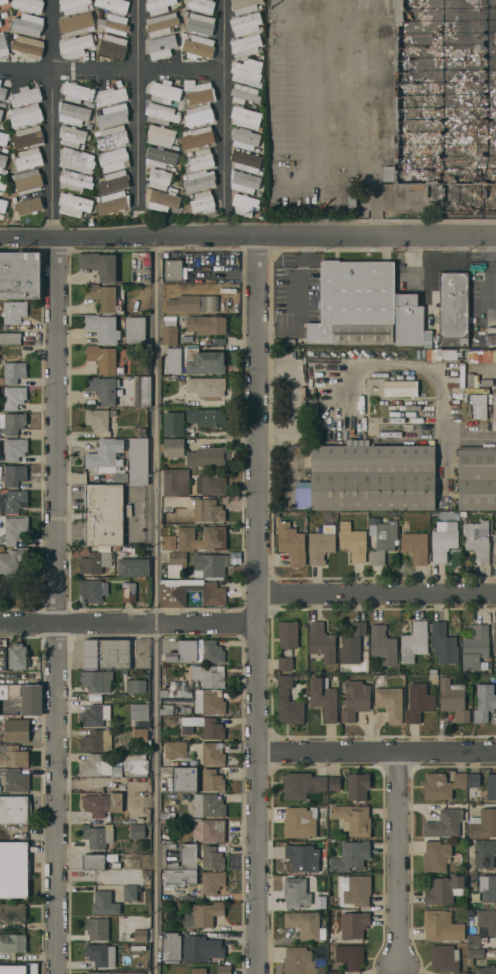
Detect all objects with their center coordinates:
building: (3, 1)
building: (29, 5)
building: (113, 5)
building: (202, 5)
building: (245, 5)
building: (74, 6)
building: (158, 6)
building: (246, 23)
building: (0, 24)
building: (76, 24)
building: (114, 24)
building: (161, 24)
building: (200, 24)
building: (27, 25)
road: (50, 34)
building: (2, 43)
building: (76, 44)
building: (161, 44)
building: (246, 45)
building: (28, 46)
building: (113, 47)
building: (198, 47)
road: (401, 47)
road: (305, 63)
road: (135, 68)
road: (25, 69)
building: (247, 72)
building: (0, 81)
building: (77, 92)
building: (3, 93)
building: (244, 93)
building: (26, 96)
building: (111, 96)
building: (199, 97)
road: (137, 101)
building: (446, 101)
road: (222, 102)
building: (172, 103)
building: (1, 113)
building: (73, 113)
building: (25, 115)
building: (199, 115)
building: (112, 116)
building: (246, 117)
road: (400, 126)
building: (161, 135)
building: (72, 136)
building: (28, 137)
building: (112, 137)
building: (197, 137)
building: (4, 138)
building: (245, 138)
road: (51, 153)
building: (161, 157)
building: (29, 159)
building: (114, 159)
building: (201, 159)
building: (76, 160)
building: (246, 161)
building: (3, 163)
road: (484, 168)
building: (0, 177)
building: (160, 179)
building: (199, 180)
road: (305, 180)
road: (432, 180)
building: (28, 181)
building: (75, 181)
building: (244, 181)
building: (114, 182)
building: (2, 185)
building: (4, 193)
building: (162, 200)
building: (113, 202)
building: (203, 202)
building: (74, 204)
building: (3, 205)
building: (28, 205)
building: (244, 205)
road: (247, 234)
road: (412, 242)
road: (462, 242)
road: (443, 263)
building: (100, 265)
road: (490, 269)
building: (175, 270)
road: (419, 272)
building: (20, 275)
building: (102, 297)
road: (301, 302)
building: (192, 303)
building: (355, 303)
building: (454, 306)
building: (14, 311)
building: (408, 320)
building: (206, 324)
building: (103, 328)
building: (169, 330)
building: (135, 331)
building: (10, 338)
building: (481, 356)
building: (102, 358)
building: (174, 360)
building: (205, 362)
building: (14, 372)
building: (206, 386)
road: (437, 387)
building: (401, 388)
building: (102, 389)
building: (143, 390)
building: (14, 397)
building: (478, 406)
building: (206, 417)
building: (97, 419)
building: (11, 423)
building: (173, 424)
road: (157, 430)
building: (174, 447)
building: (15, 449)
building: (206, 457)
building: (107, 458)
building: (138, 461)
building: (14, 475)
building: (373, 477)
building: (477, 479)
building: (176, 482)
building: (212, 484)
building: (13, 502)
building: (208, 511)
building: (104, 515)
building: (15, 529)
building: (171, 534)
building: (186, 538)
building: (214, 538)
building: (382, 538)
building: (353, 541)
building: (477, 541)
building: (168, 542)
building: (444, 542)
building: (291, 543)
building: (321, 544)
building: (415, 546)
building: (495, 549)
building: (12, 560)
building: (94, 562)
building: (196, 565)
building: (133, 567)
building: (92, 590)
building: (129, 592)
building: (190, 593)
road: (378, 595)
road: (259, 604)
road: (58, 605)
road: (129, 625)
building: (288, 634)
building: (494, 638)
building: (321, 642)
building: (414, 642)
building: (352, 643)
building: (443, 644)
building: (383, 645)
building: (475, 647)
building: (196, 651)
building: (107, 653)
building: (17, 657)
building: (285, 663)
building: (210, 676)
building: (96, 680)
building: (135, 686)
building: (176, 694)
building: (25, 697)
building: (324, 698)
building: (454, 699)
building: (355, 700)
building: (210, 702)
building: (288, 702)
building: (419, 702)
building: (484, 702)
building: (390, 703)
building: (167, 710)
building: (140, 712)
building: (95, 715)
building: (206, 726)
building: (17, 730)
building: (141, 735)
building: (97, 741)
building: (175, 749)
road: (378, 752)
building: (212, 754)
building: (12, 756)
building: (135, 765)
building: (98, 766)
building: (184, 779)
building: (16, 780)
building: (473, 780)
building: (212, 781)
building: (334, 783)
building: (302, 784)
building: (442, 785)
building: (358, 786)
building: (491, 787)
road: (155, 799)
building: (102, 804)
building: (209, 806)
building: (15, 809)
building: (353, 819)
building: (300, 822)
building: (444, 824)
building: (483, 824)
building: (214, 830)
building: (137, 831)
building: (98, 836)
building: (485, 854)
building: (351, 856)
building: (436, 856)
building: (186, 857)
building: (212, 857)
building: (302, 858)
building: (101, 861)
road: (400, 861)
building: (14, 869)
building: (181, 876)
building: (213, 882)
building: (488, 888)
building: (355, 890)
building: (444, 890)
building: (297, 892)
building: (130, 893)
building: (105, 903)
building: (13, 911)
building: (206, 913)
building: (487, 920)
building: (305, 924)
building: (354, 924)
building: (442, 926)
building: (100, 929)
building: (141, 935)
building: (473, 940)
building: (13, 943)
building: (171, 946)
building: (138, 948)
building: (202, 948)
building: (476, 953)
building: (100, 954)
building: (350, 956)
building: (445, 958)
building: (299, 961)
building: (13, 969)
building: (198, 970)
building: (224, 970)
building: (486, 970)
building: (334, 972)
building: (98, 973)
building: (129, 973)

